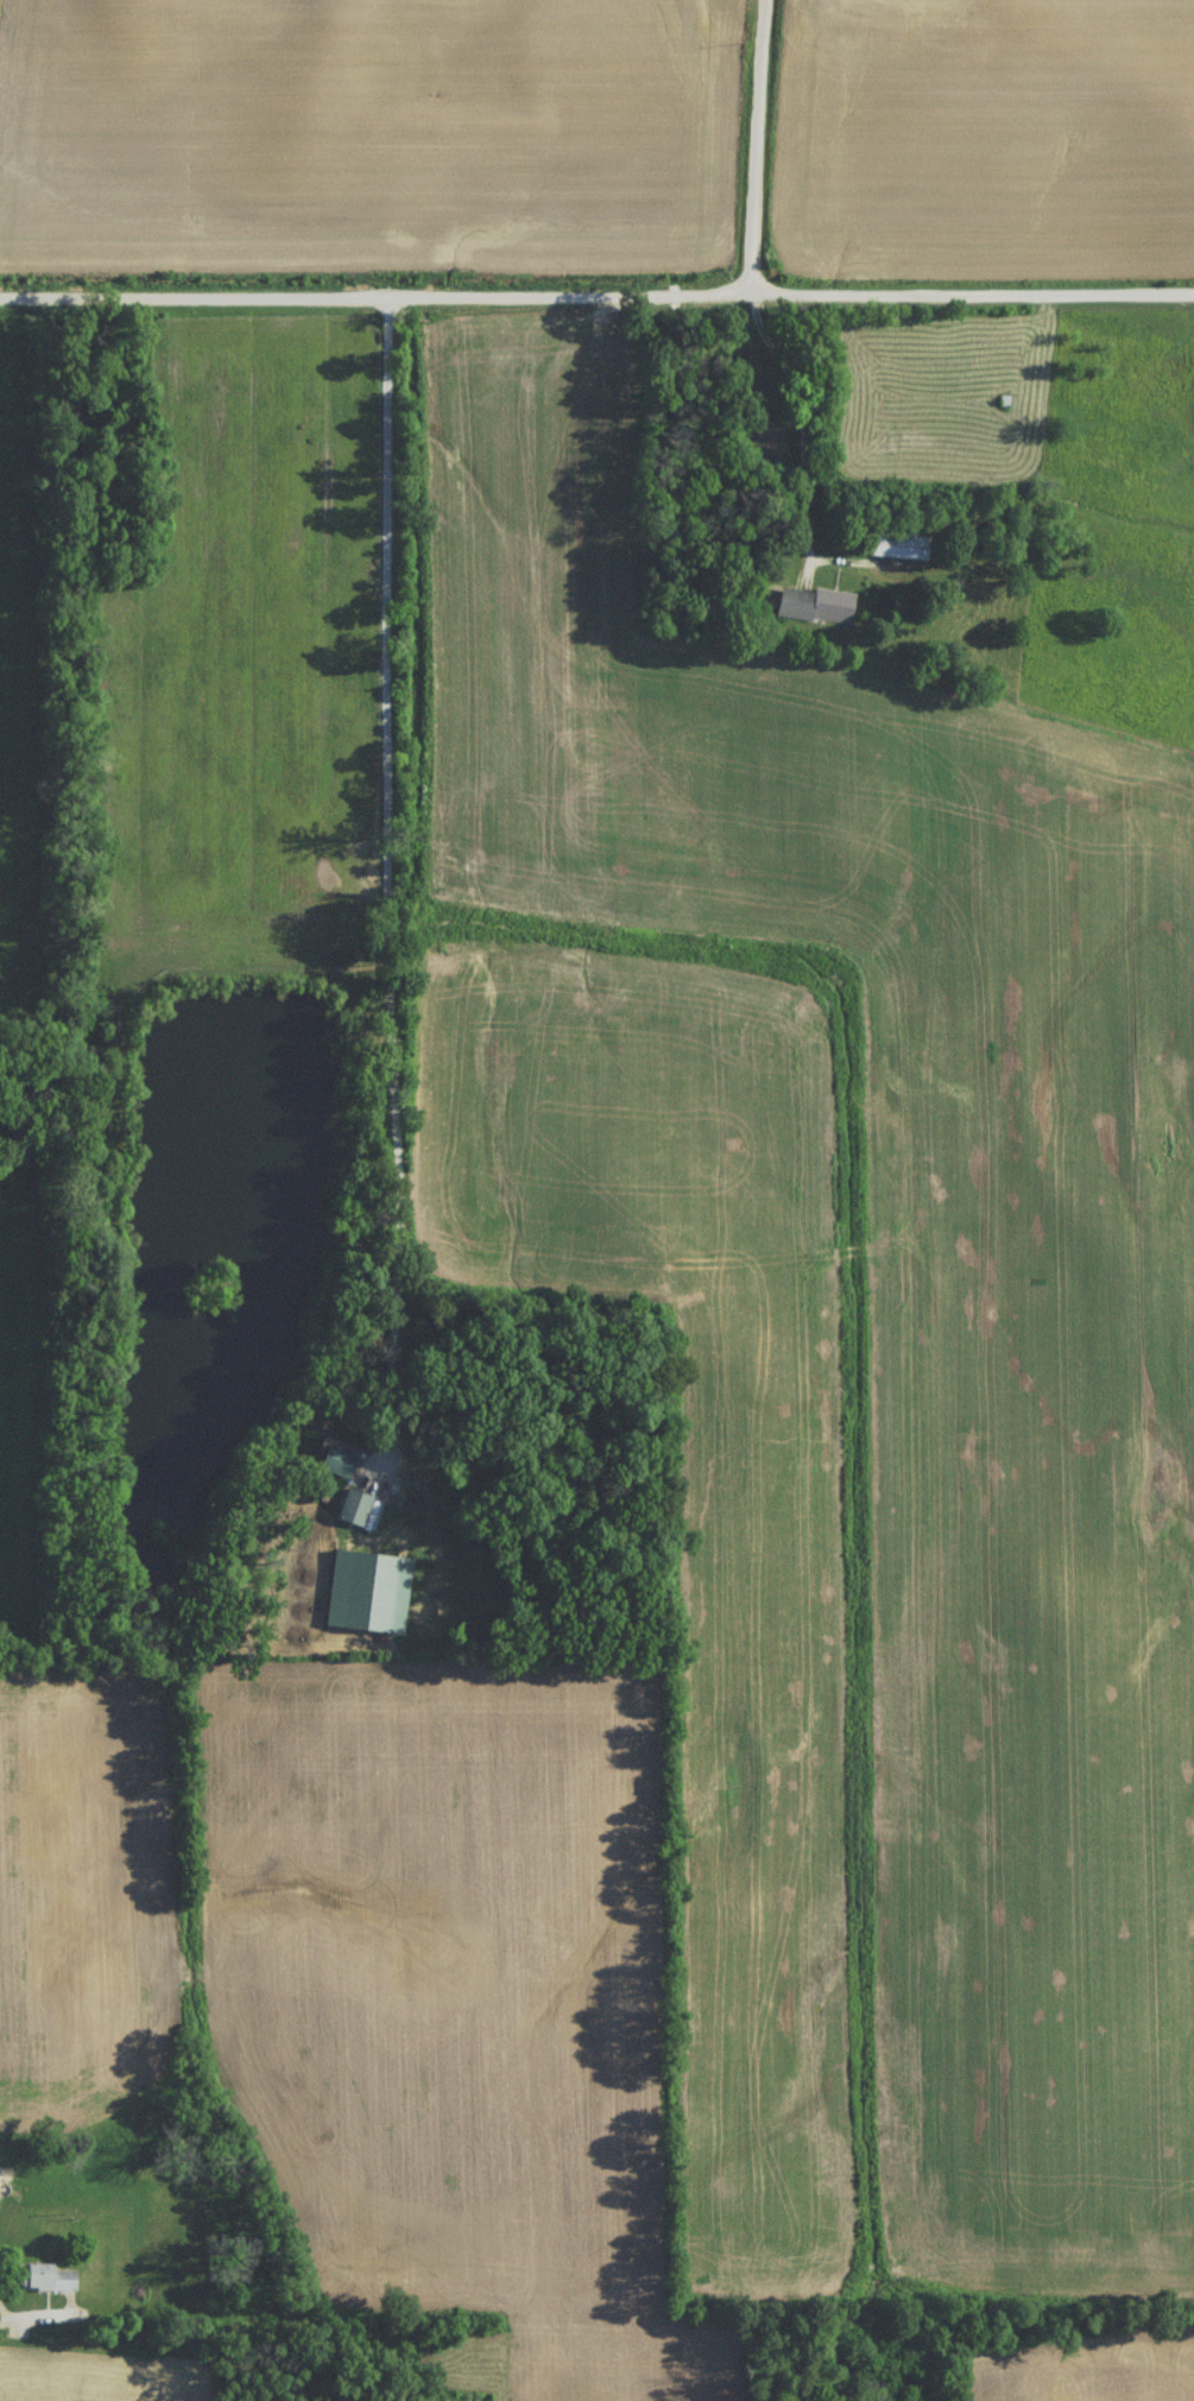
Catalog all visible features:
building: (899, 7)
road: (754, 144)
road: (596, 298)
road: (809, 435)
building: (890, 551)
building: (814, 612)
road: (387, 890)
building: (336, 1468)
building: (51, 2283)
road: (44, 2315)

